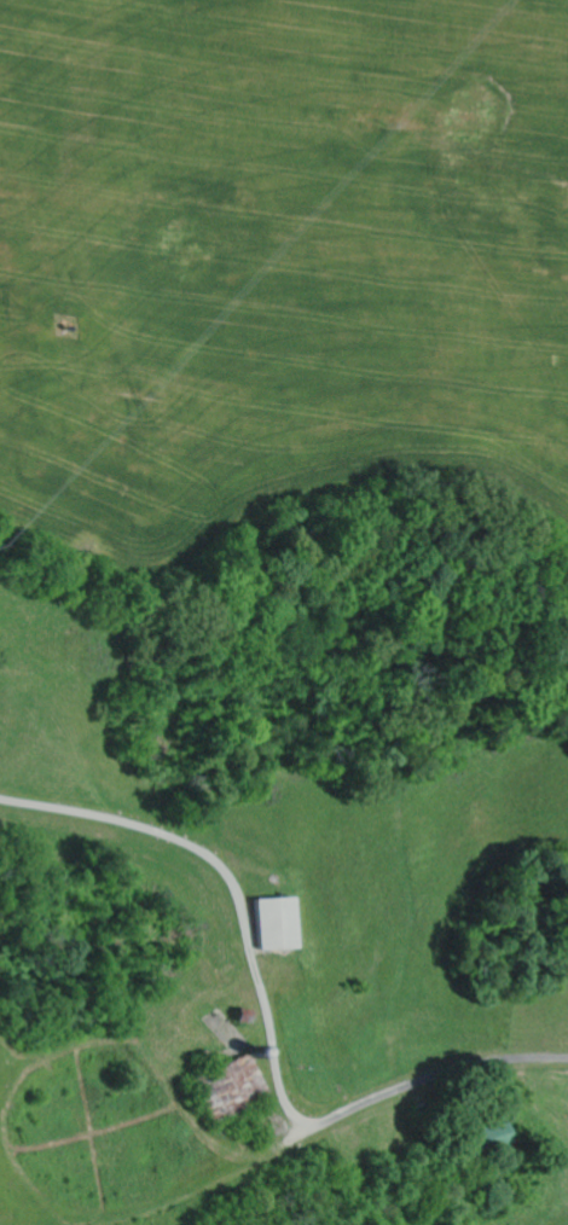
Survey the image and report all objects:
building: (290, 922)
road: (487, 1064)

